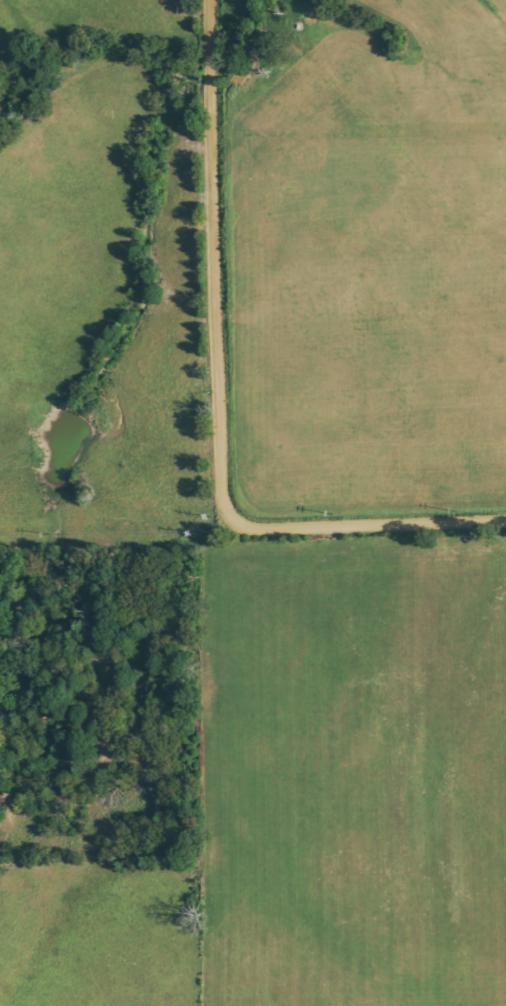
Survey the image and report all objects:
road: (219, 397)

